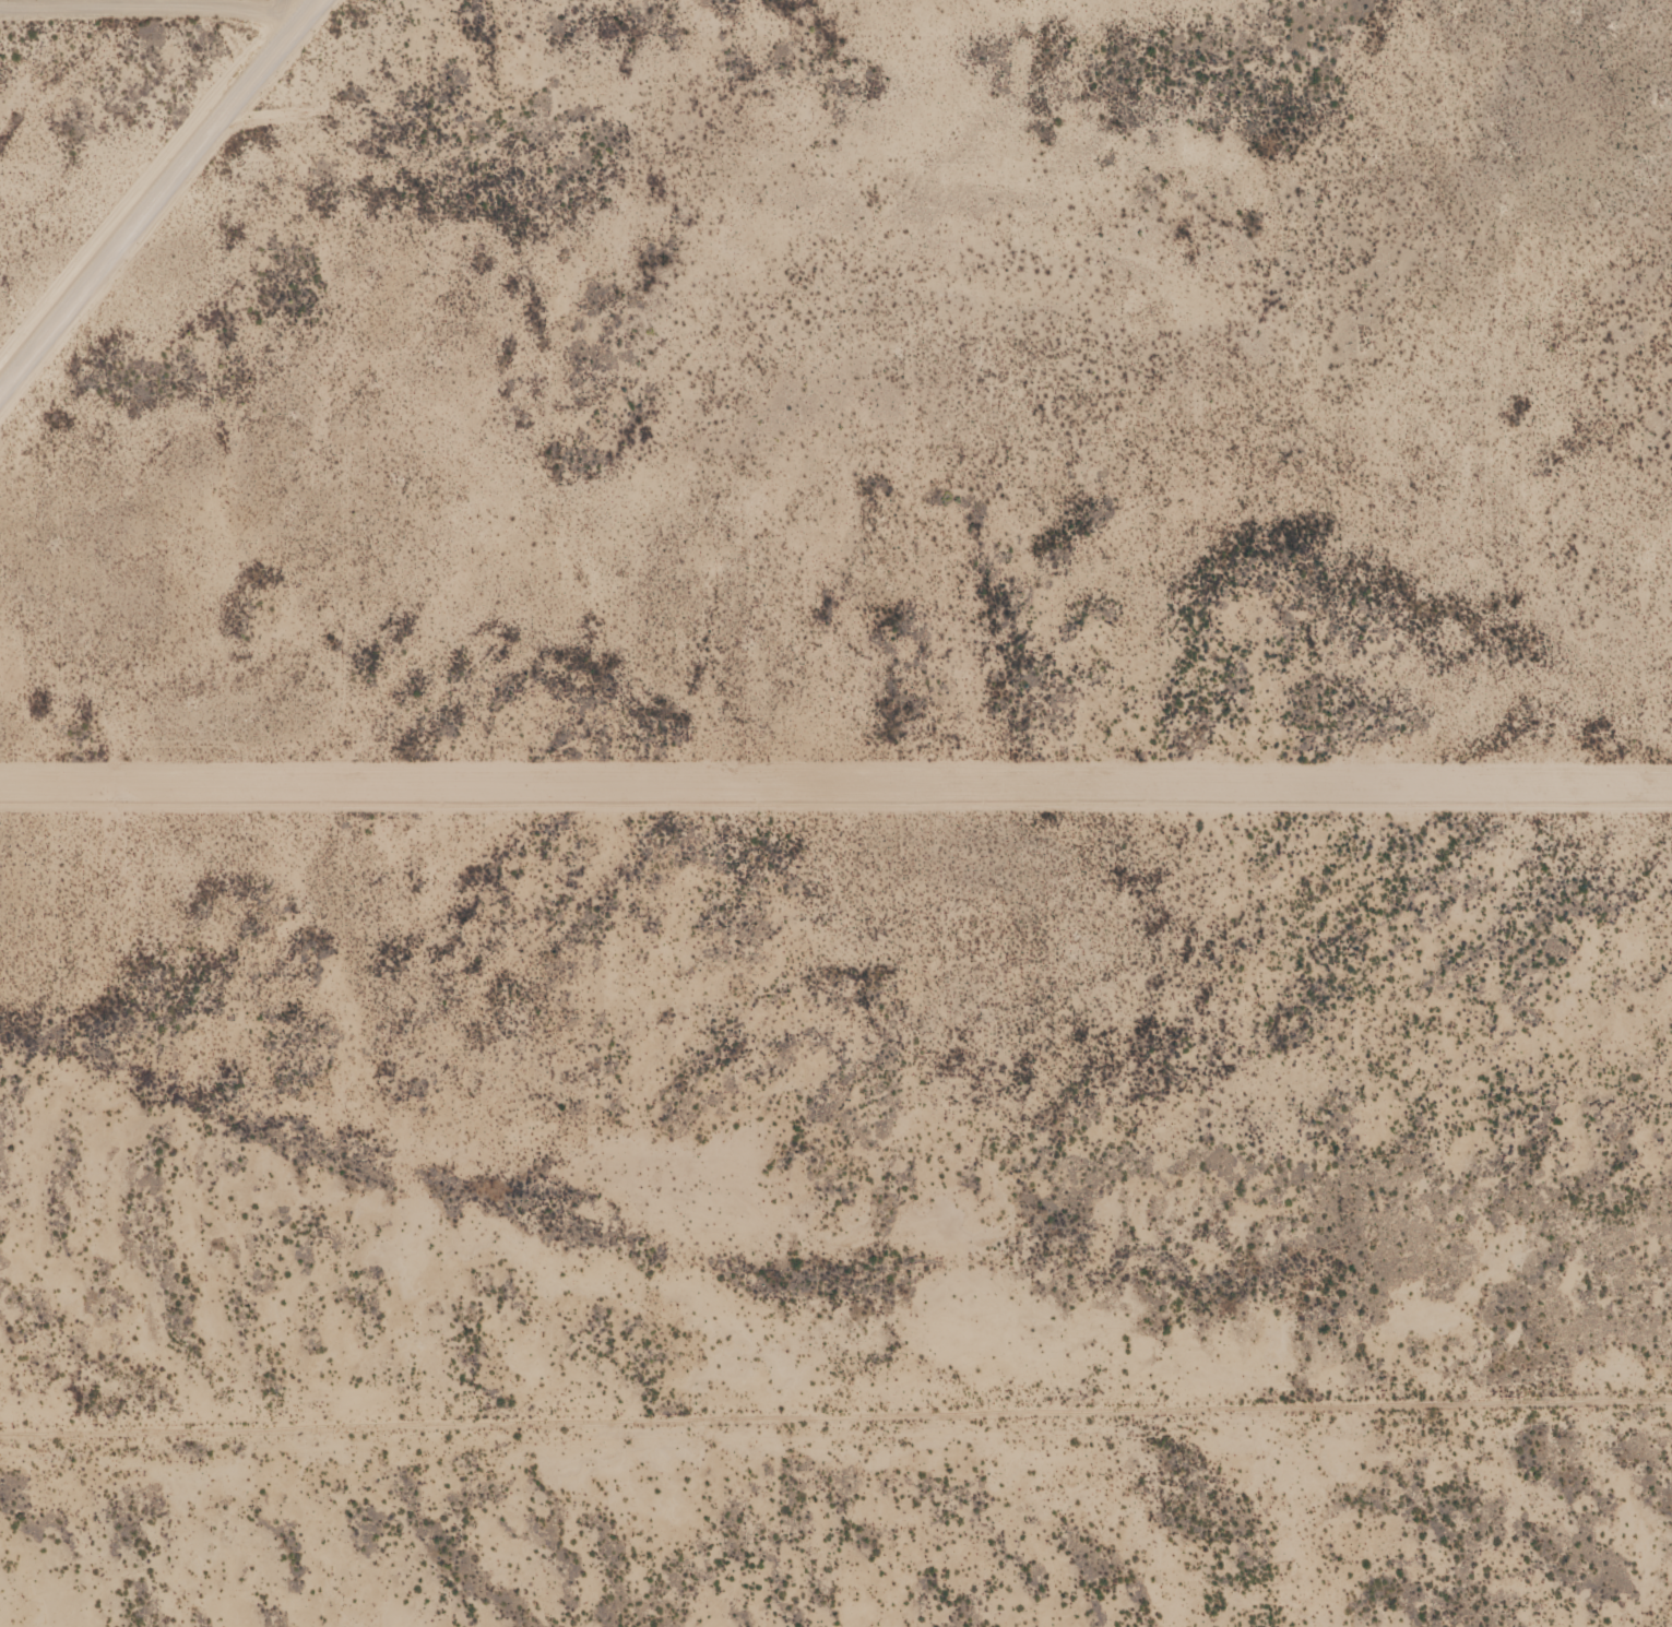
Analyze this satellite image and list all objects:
road: (164, 202)

